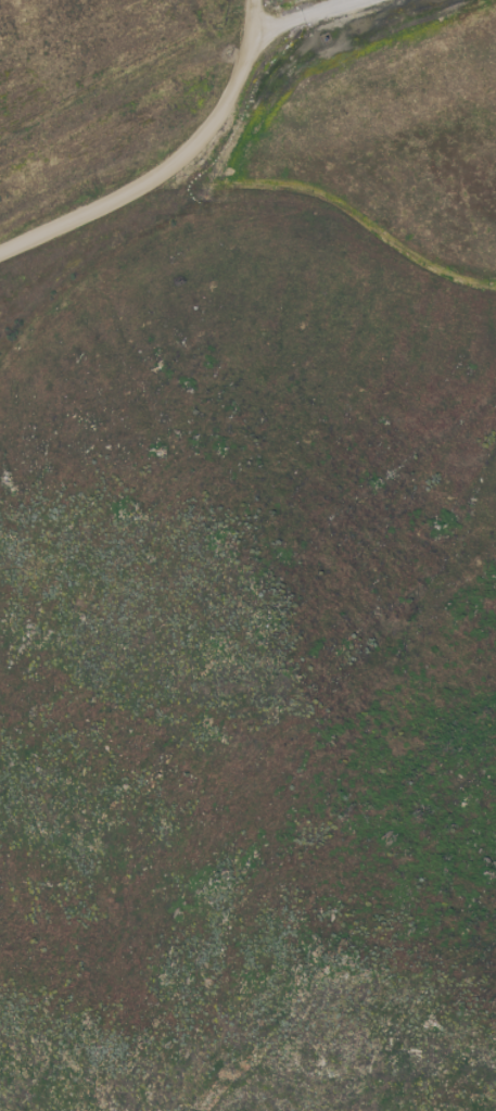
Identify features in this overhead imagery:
road: (262, 14)
road: (199, 141)

